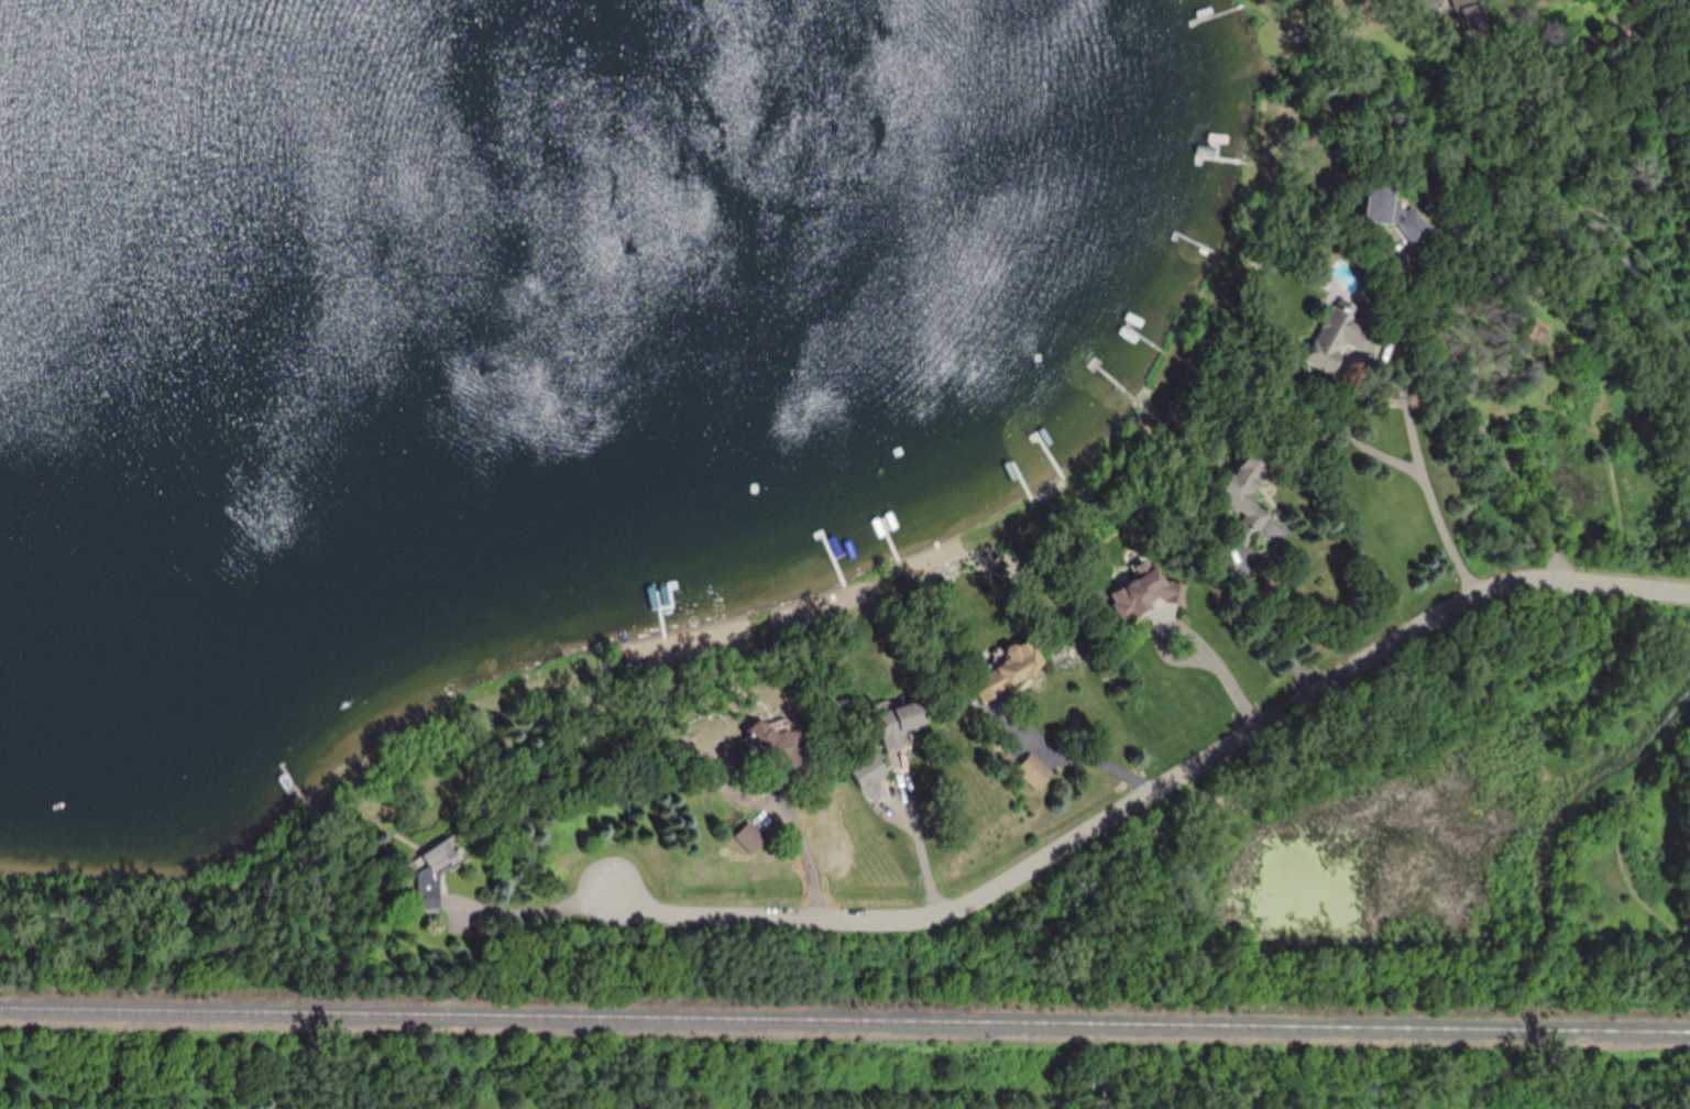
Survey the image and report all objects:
building: (1376, 199)
building: (1412, 226)
building: (1334, 338)
road: (1475, 418)
road: (1407, 479)
building: (1243, 494)
building: (1140, 596)
road: (1270, 618)
road: (1217, 662)
building: (1005, 671)
building: (898, 724)
road: (1054, 754)
building: (1033, 771)
road: (913, 813)
road: (1090, 828)
building: (749, 839)
building: (432, 869)
railway: (845, 1019)

